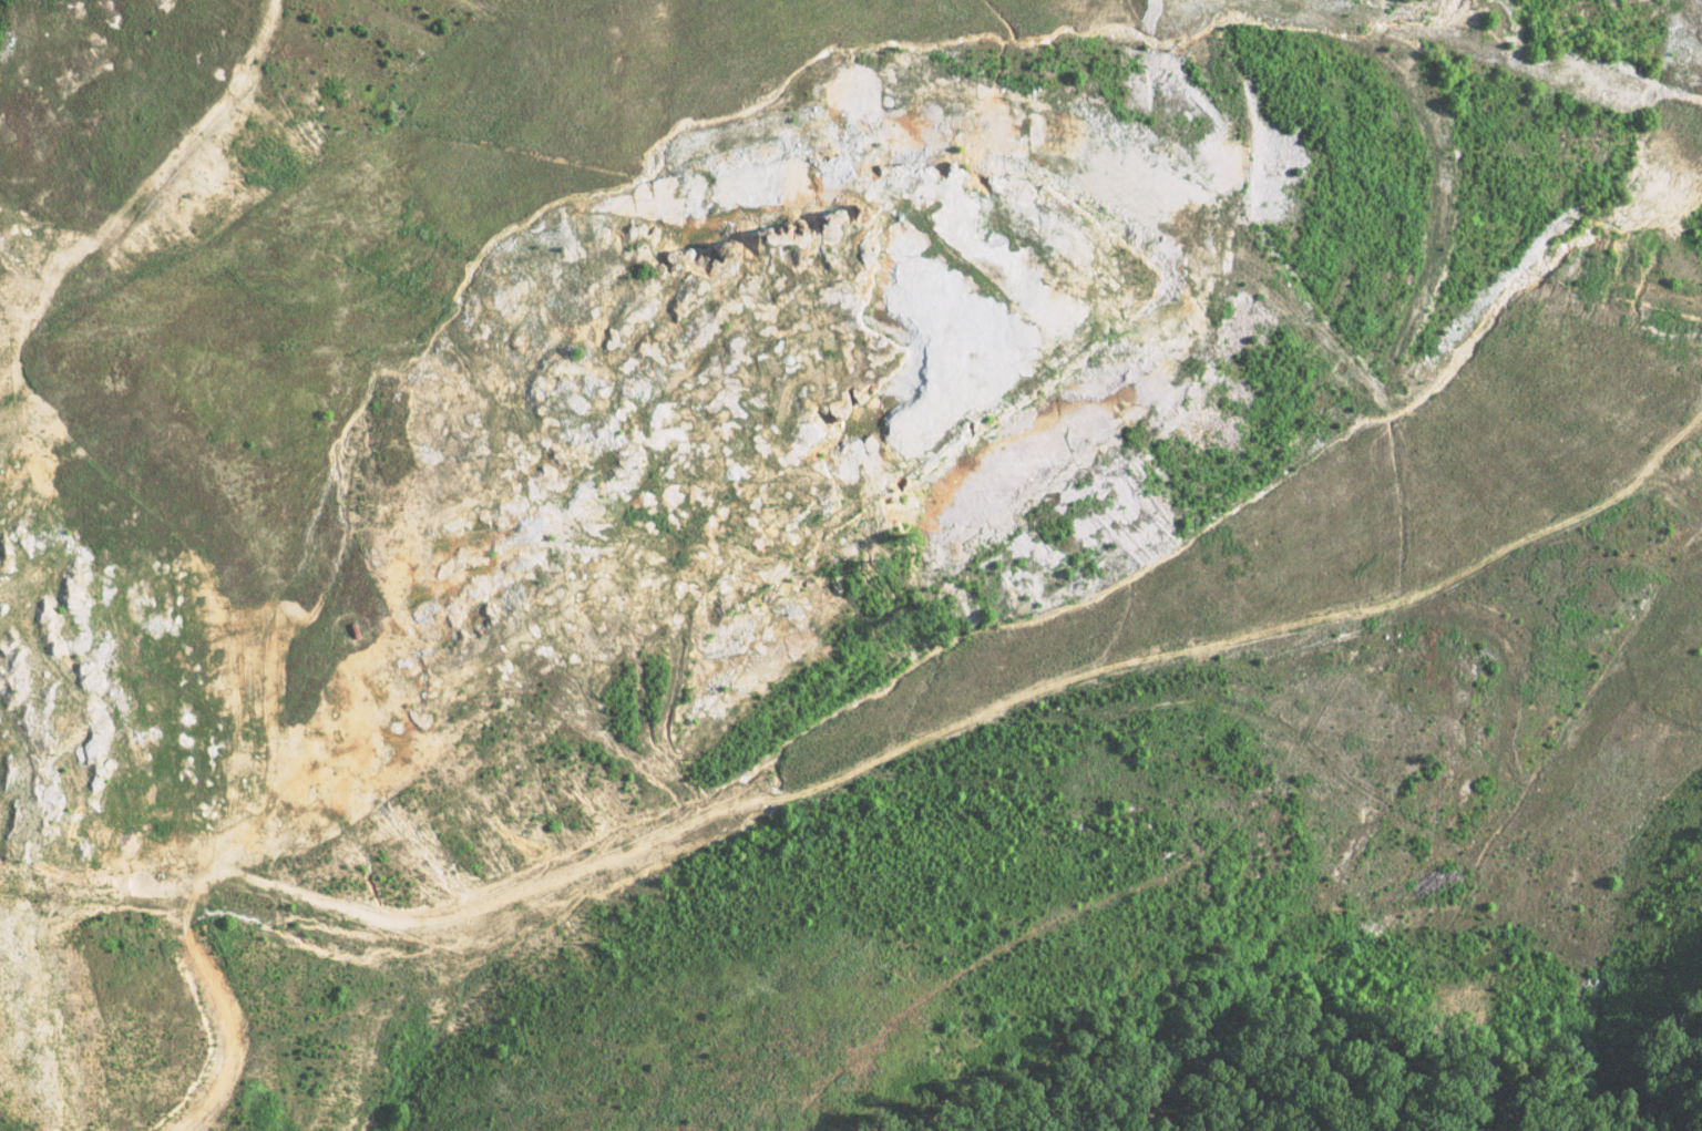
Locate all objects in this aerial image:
quarry: (823, 481)
road: (837, 777)

